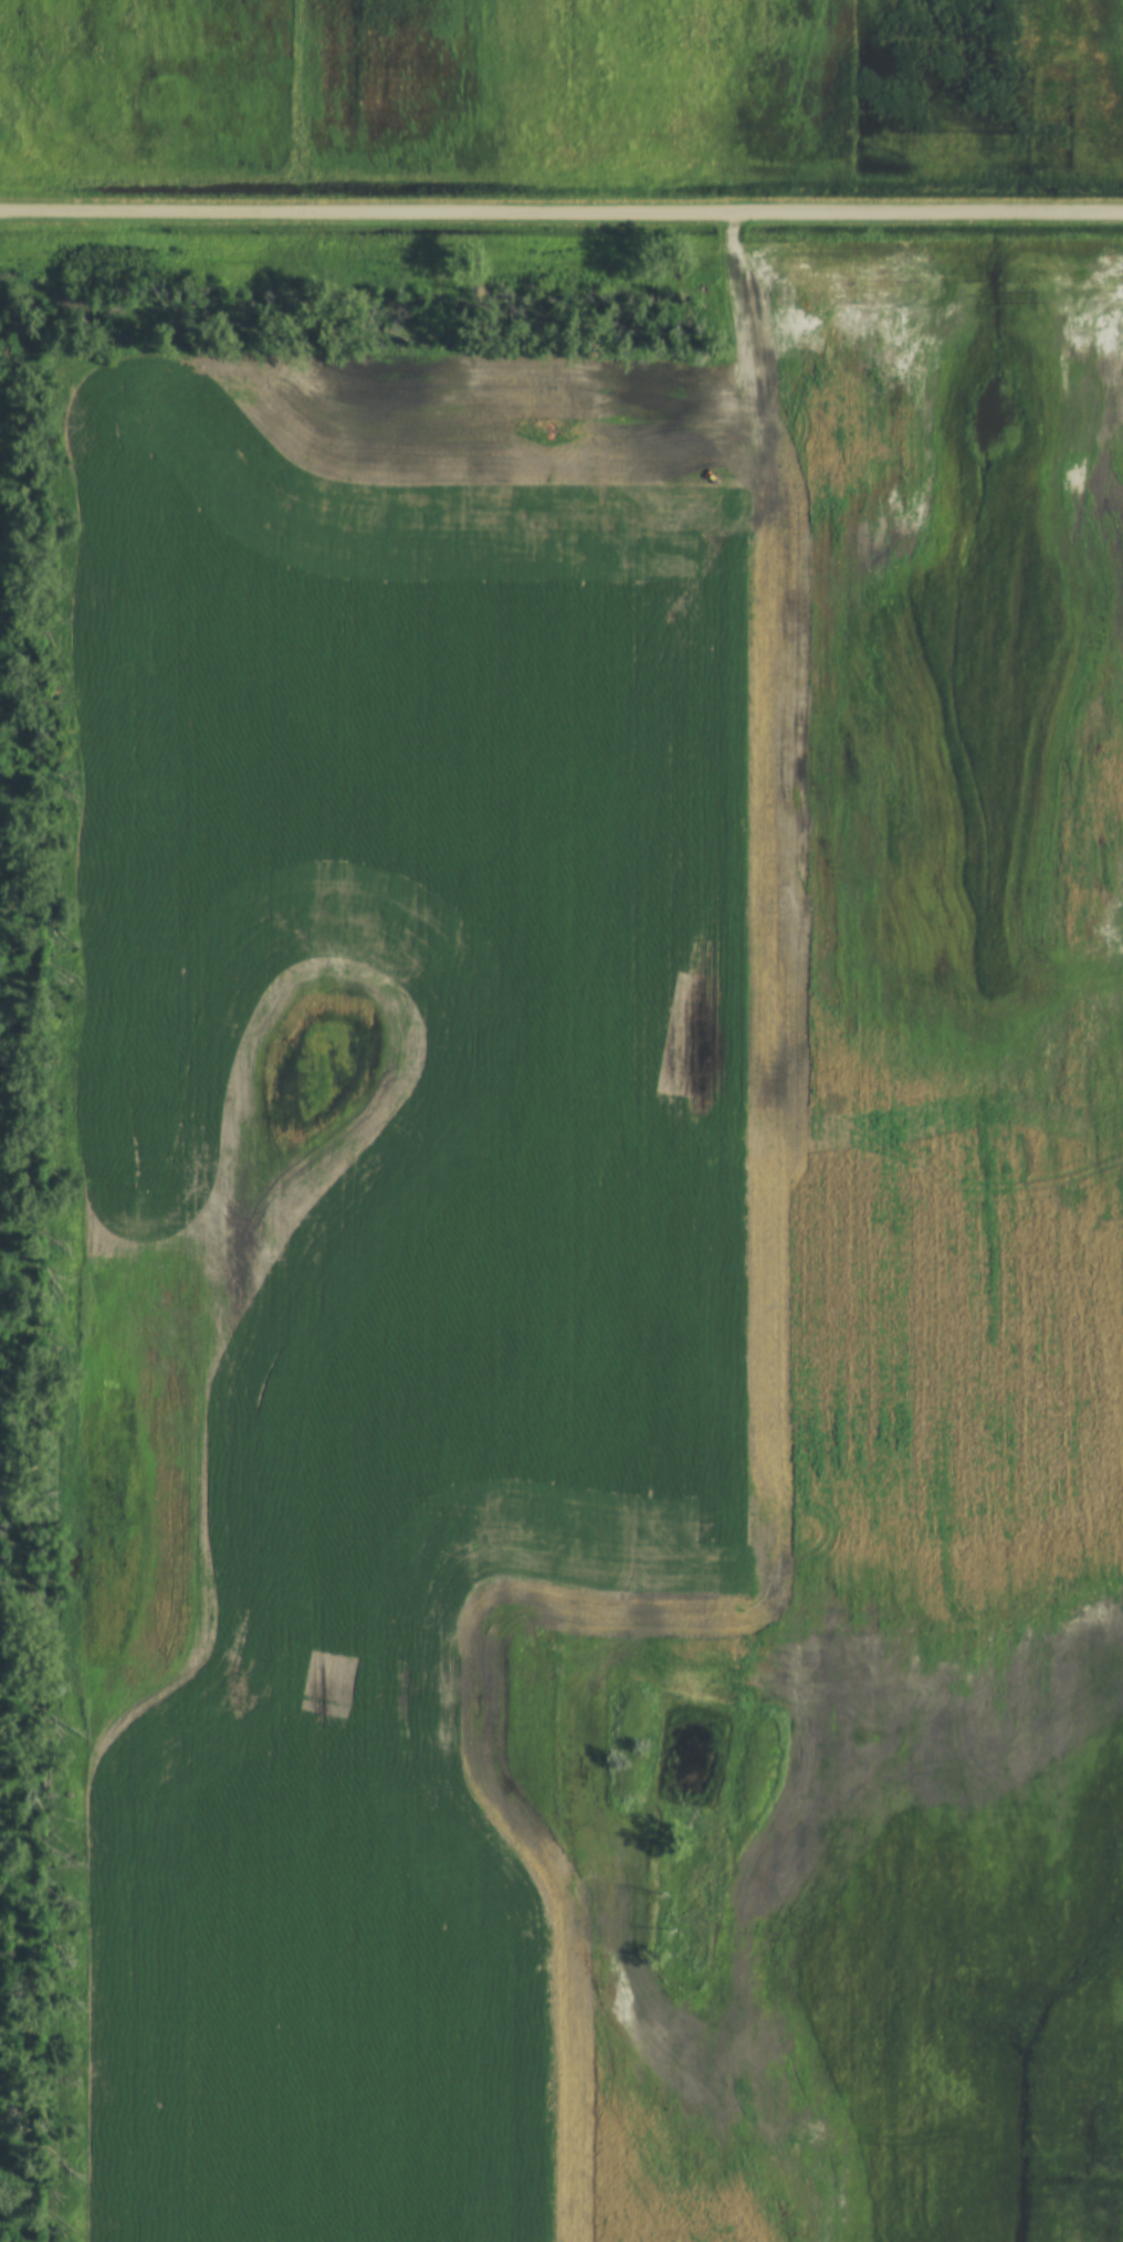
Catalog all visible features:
road: (560, 211)
crop: (606, 1267)

